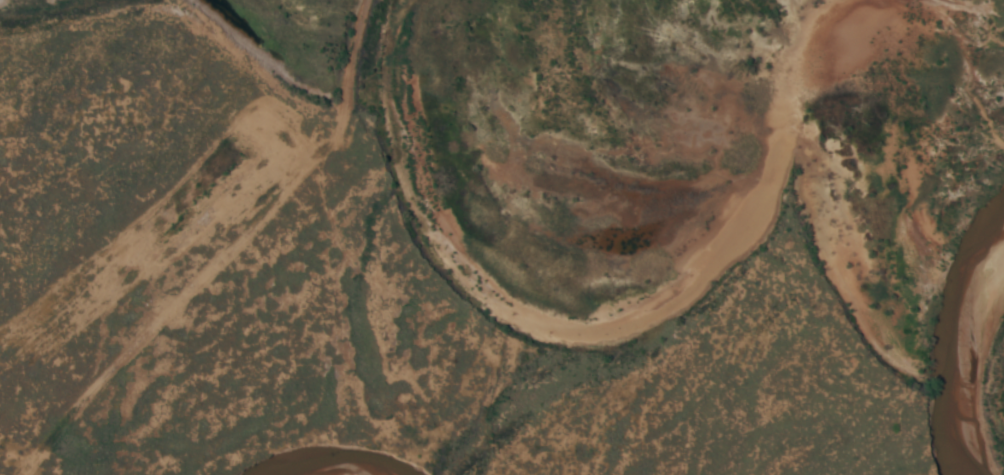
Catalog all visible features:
river: (975, 362)

